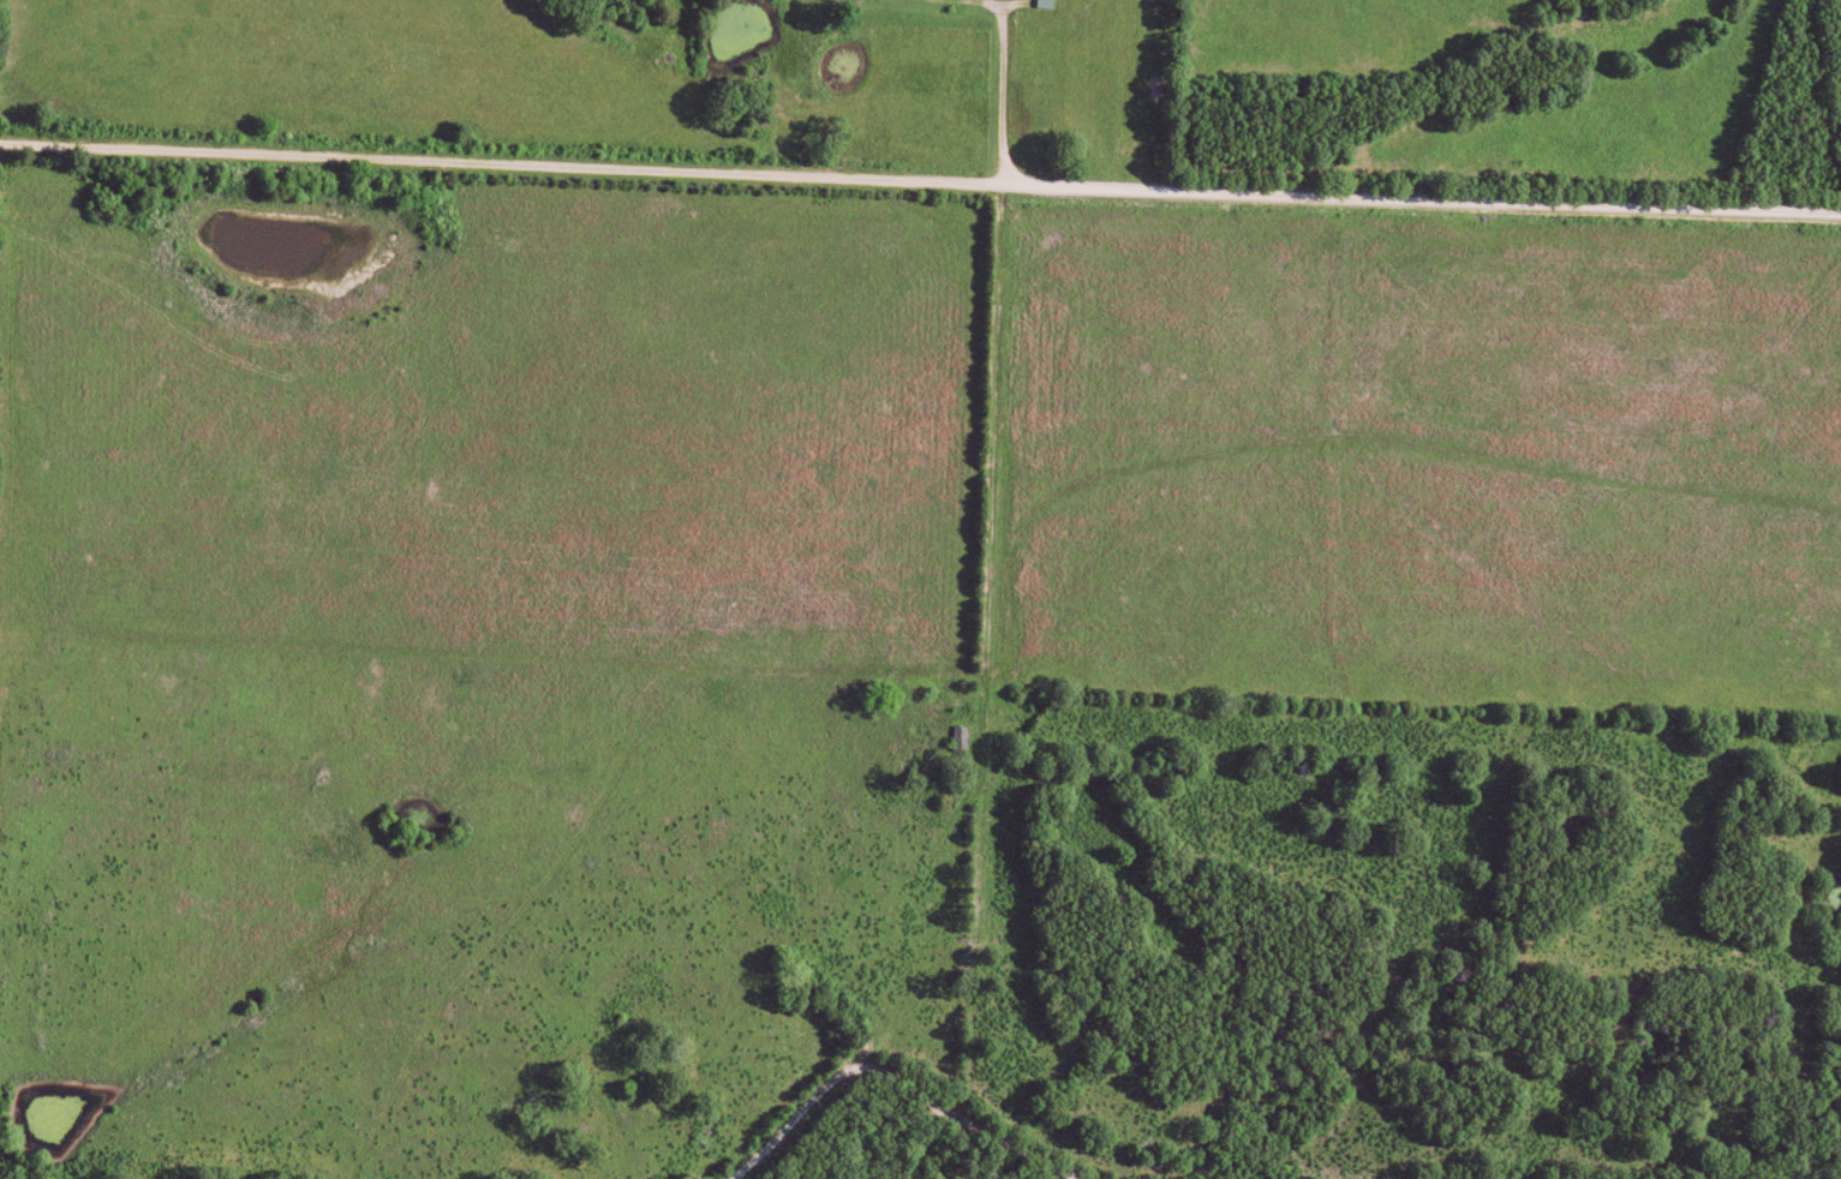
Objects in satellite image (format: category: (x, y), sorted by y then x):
road: (1005, 89)
road: (920, 181)
road: (914, 1065)

